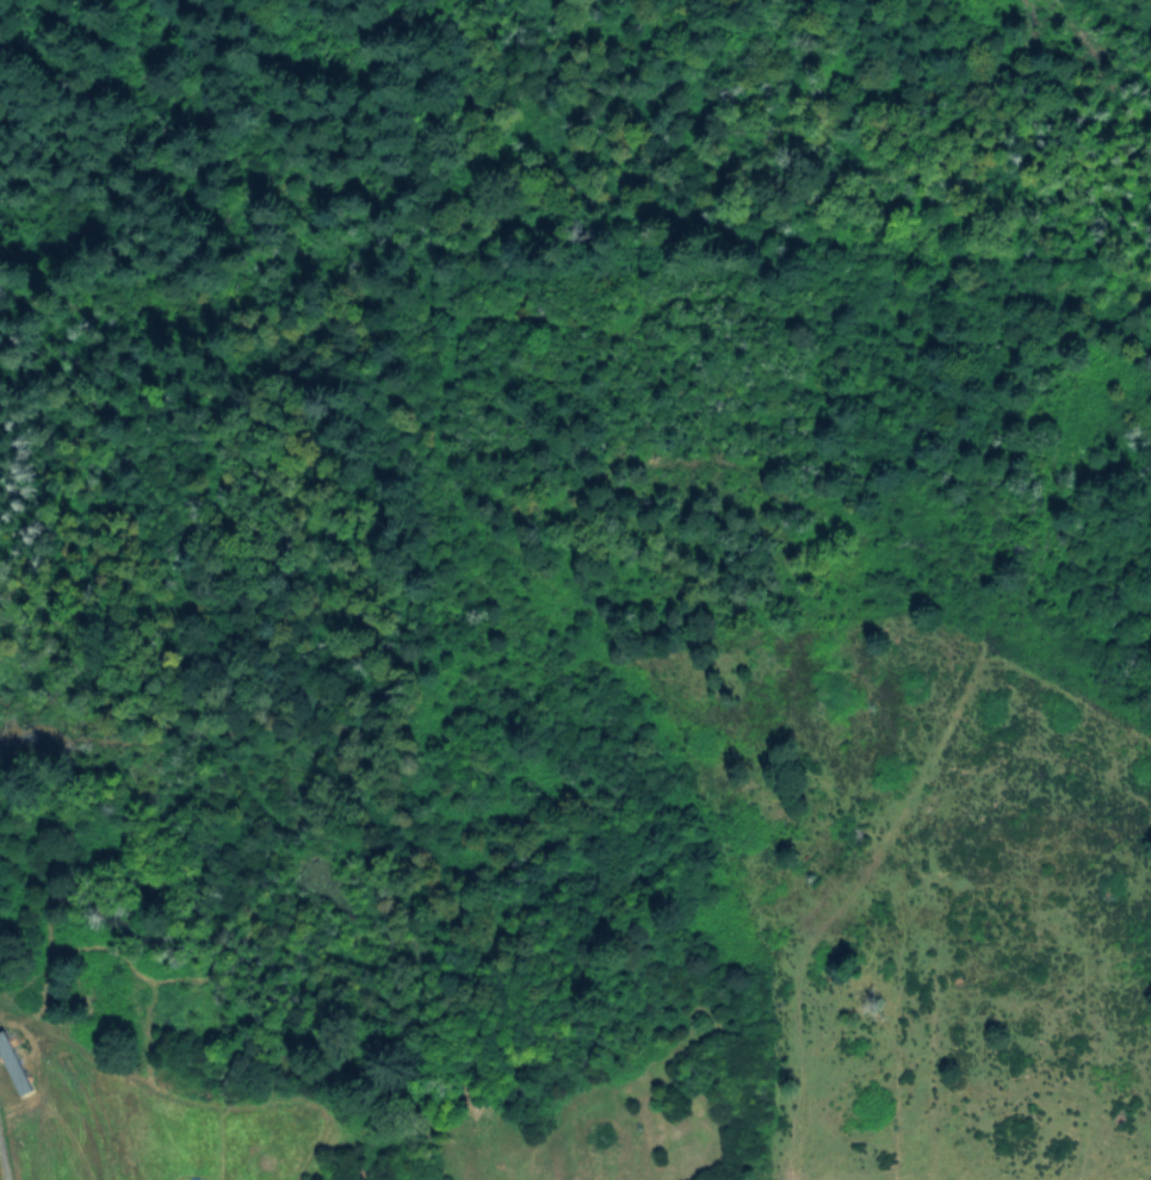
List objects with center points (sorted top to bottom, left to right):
road: (4, 1162)

